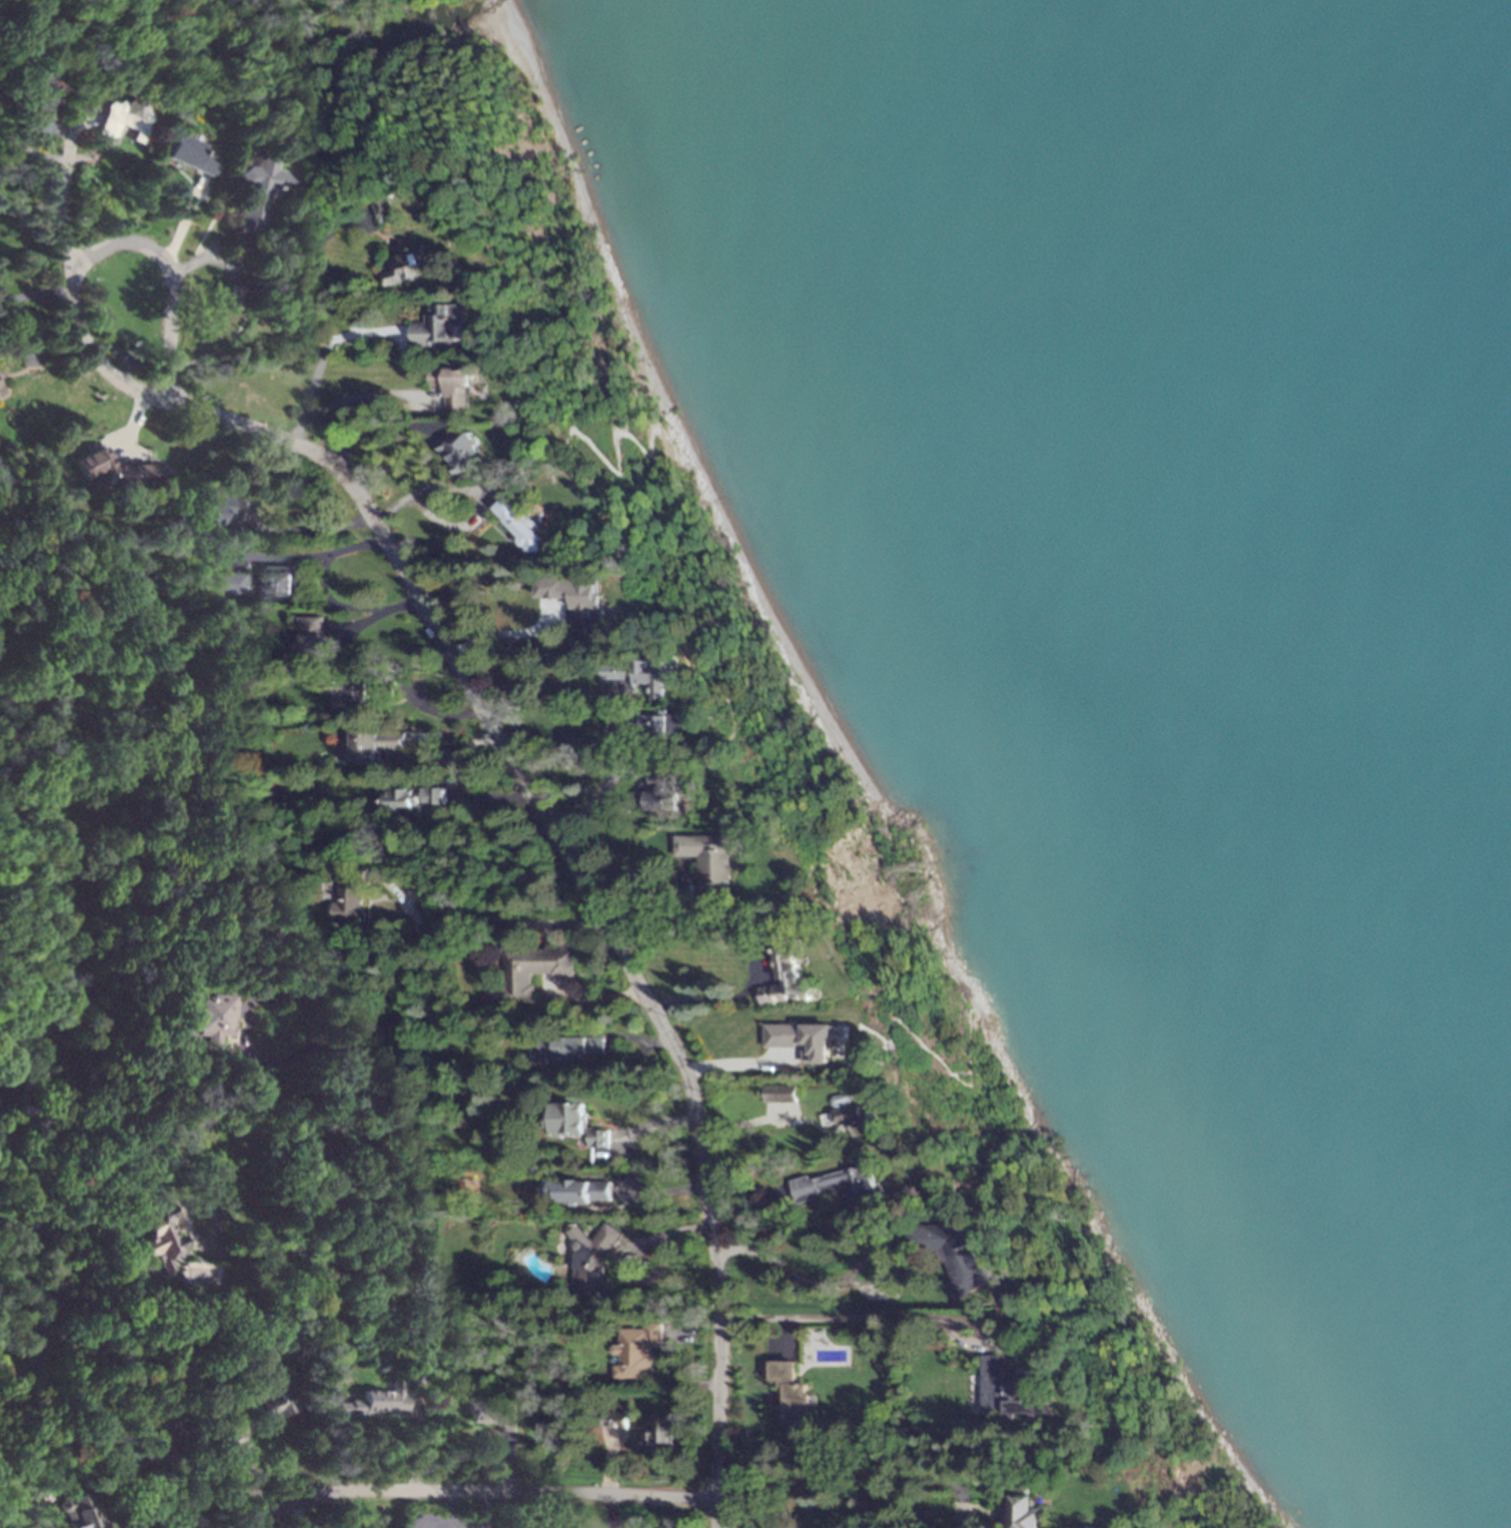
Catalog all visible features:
building: (40, 104)
building: (122, 118)
road: (33, 154)
building: (187, 154)
road: (325, 187)
building: (255, 194)
road: (62, 202)
road: (31, 211)
building: (383, 211)
road: (309, 262)
building: (406, 265)
road: (36, 294)
building: (229, 296)
building: (437, 324)
road: (94, 351)
building: (450, 385)
building: (0, 392)
road: (309, 395)
road: (363, 395)
building: (459, 451)
road: (477, 495)
building: (212, 509)
building: (516, 524)
road: (302, 529)
building: (226, 582)
building: (280, 583)
road: (323, 594)
building: (574, 598)
road: (500, 632)
building: (309, 640)
building: (635, 673)
building: (354, 688)
road: (547, 689)
building: (663, 723)
road: (434, 741)
building: (371, 742)
road: (563, 742)
building: (659, 786)
road: (526, 788)
road: (597, 789)
building: (407, 799)
building: (706, 859)
building: (349, 897)
road: (506, 926)
road: (754, 940)
building: (525, 971)
building: (786, 976)
road: (584, 1003)
building: (212, 1016)
building: (802, 1040)
road: (613, 1045)
building: (565, 1049)
road: (267, 1062)
road: (740, 1063)
building: (780, 1093)
road: (410, 1097)
building: (856, 1120)
building: (572, 1124)
road: (752, 1125)
road: (641, 1129)
building: (836, 1184)
building: (578, 1191)
road: (650, 1197)
building: (159, 1236)
road: (636, 1254)
building: (951, 1255)
building: (590, 1258)
road: (297, 1267)
road: (829, 1284)
road: (892, 1318)
road: (677, 1332)
road: (785, 1334)
building: (636, 1352)
road: (675, 1373)
building: (417, 1377)
building: (791, 1393)
building: (1009, 1393)
road: (416, 1395)
building: (373, 1403)
building: (273, 1406)
road: (717, 1409)
building: (495, 1414)
building: (614, 1421)
building: (231, 1428)
building: (660, 1436)
building: (162, 1437)
road: (415, 1443)
road: (866, 1449)
road: (510, 1462)
road: (607, 1462)
road: (217, 1464)
road: (250, 1479)
road: (780, 1486)
road: (481, 1490)
road: (251, 1508)
road: (448, 1509)
building: (1026, 1510)
road: (608, 1511)
building: (79, 1512)
road: (294, 1516)
road: (481, 1523)

